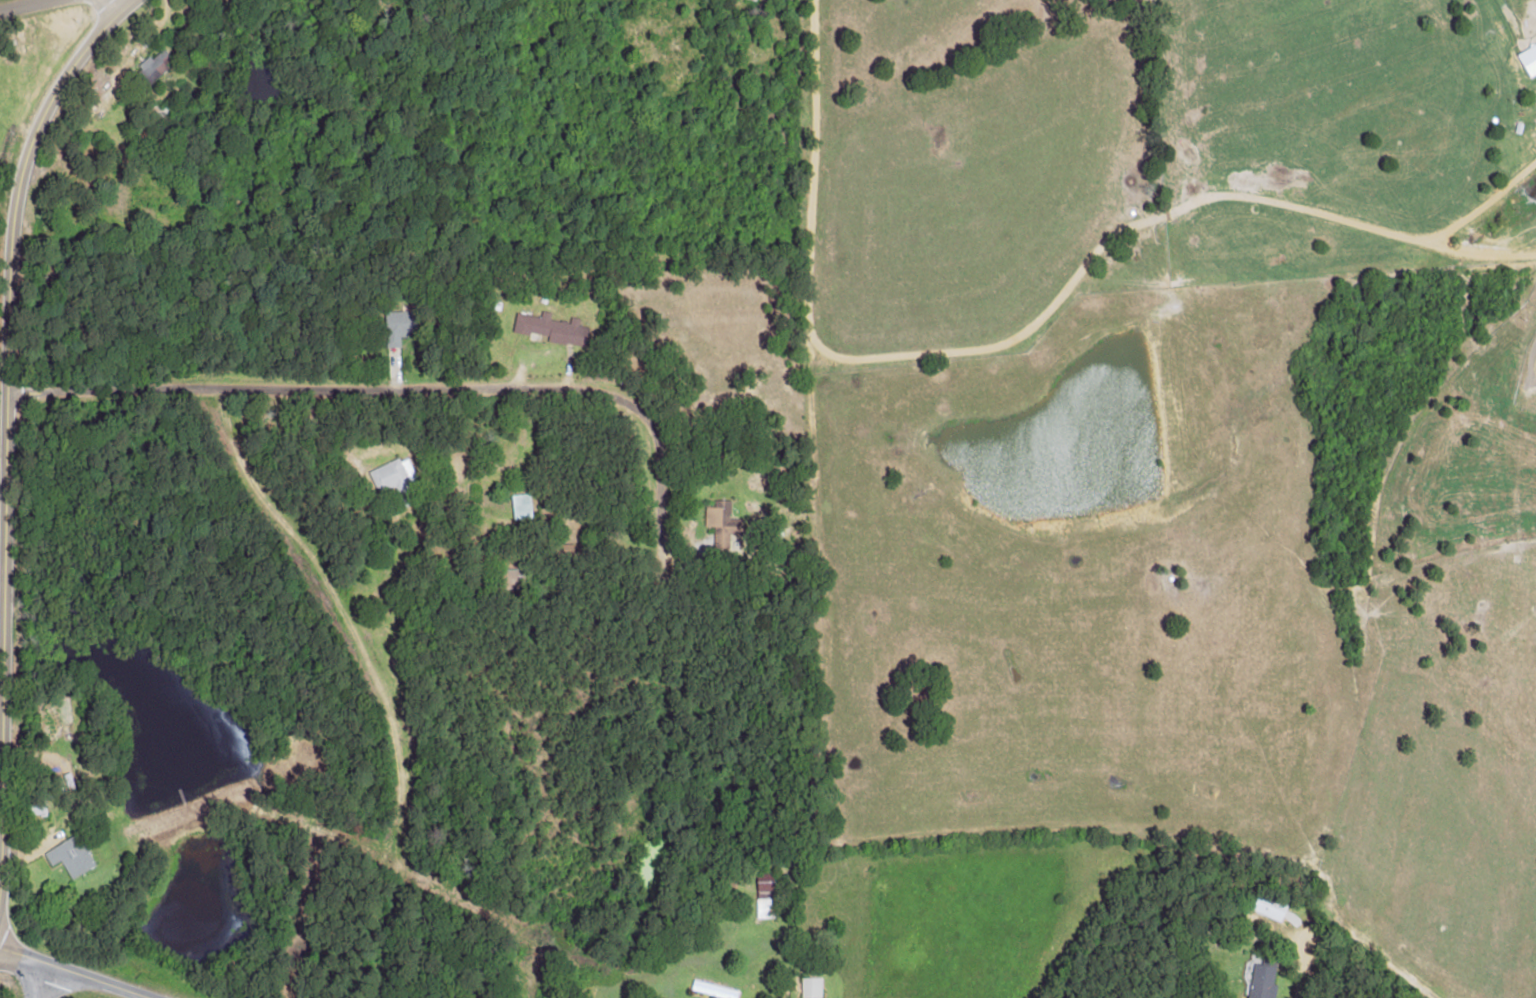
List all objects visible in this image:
road: (22, 4)
building: (1528, 57)
building: (152, 67)
road: (12, 217)
building: (397, 326)
building: (551, 327)
road: (490, 387)
building: (395, 478)
building: (521, 506)
building: (717, 512)
road: (308, 585)
building: (69, 856)
road: (477, 860)
building: (1269, 906)
road: (70, 973)
building: (1260, 981)
road: (41, 982)
building: (811, 987)
building: (713, 989)

